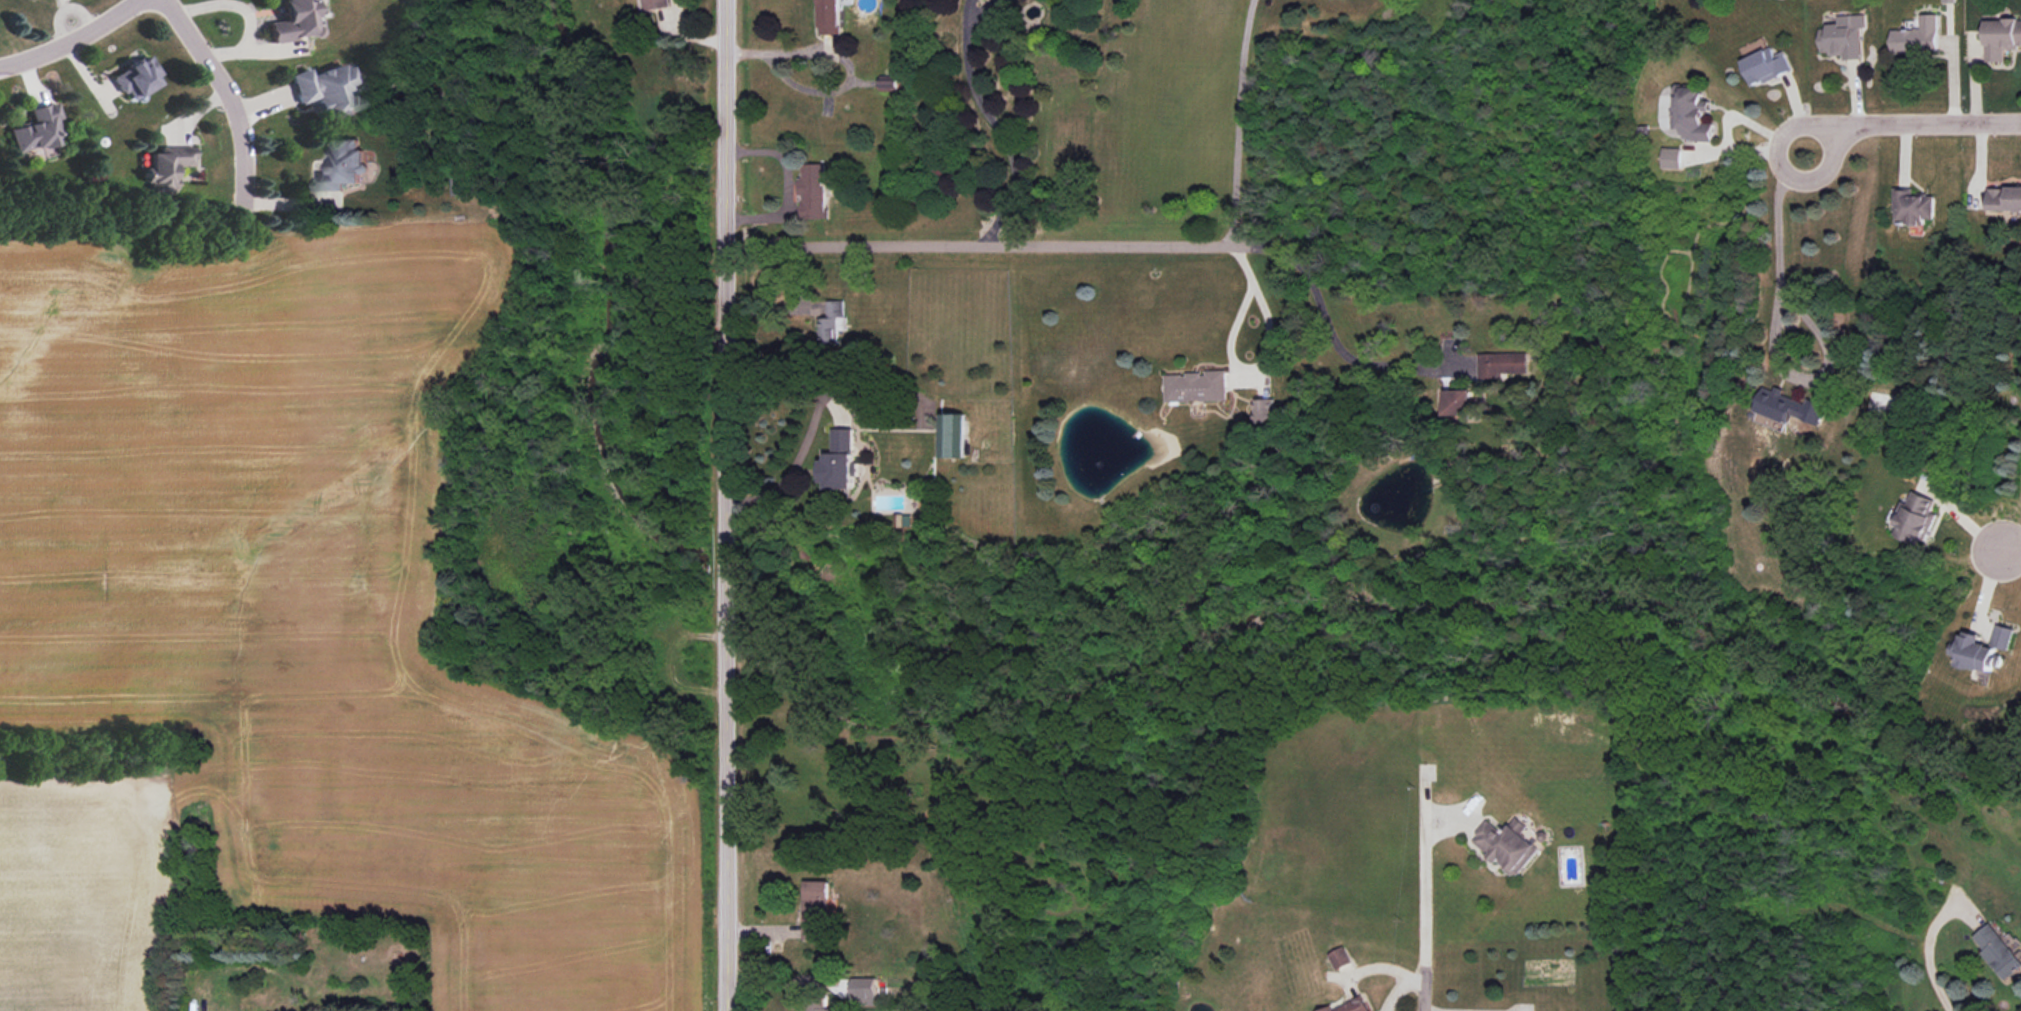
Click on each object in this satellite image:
building: (1948, 1)
building: (654, 5)
road: (245, 14)
building: (828, 17)
building: (294, 22)
building: (1919, 38)
building: (2002, 39)
road: (71, 40)
building: (1842, 40)
road: (844, 61)
building: (1769, 67)
building: (137, 79)
building: (890, 86)
building: (327, 91)
road: (227, 95)
building: (1697, 118)
road: (1907, 118)
road: (1239, 121)
road: (995, 122)
building: (38, 131)
building: (1673, 159)
building: (343, 166)
building: (166, 168)
road: (785, 185)
building: (463, 187)
building: (812, 191)
building: (2006, 201)
building: (1915, 208)
road: (1108, 243)
building: (828, 322)
road: (1771, 331)
road: (1268, 357)
building: (1507, 363)
building: (1199, 386)
building: (1463, 402)
building: (1884, 406)
building: (1270, 409)
building: (1790, 409)
road: (810, 426)
building: (949, 434)
building: (838, 458)
road: (727, 505)
building: (1920, 517)
road: (2009, 545)
crop: (305, 593)
building: (1990, 649)
building: (1505, 841)
crop: (74, 893)
road: (1424, 904)
building: (813, 906)
building: (1997, 948)
road: (1928, 954)
building: (1335, 956)
road: (1399, 989)
building: (816, 1004)
building: (1342, 1005)

